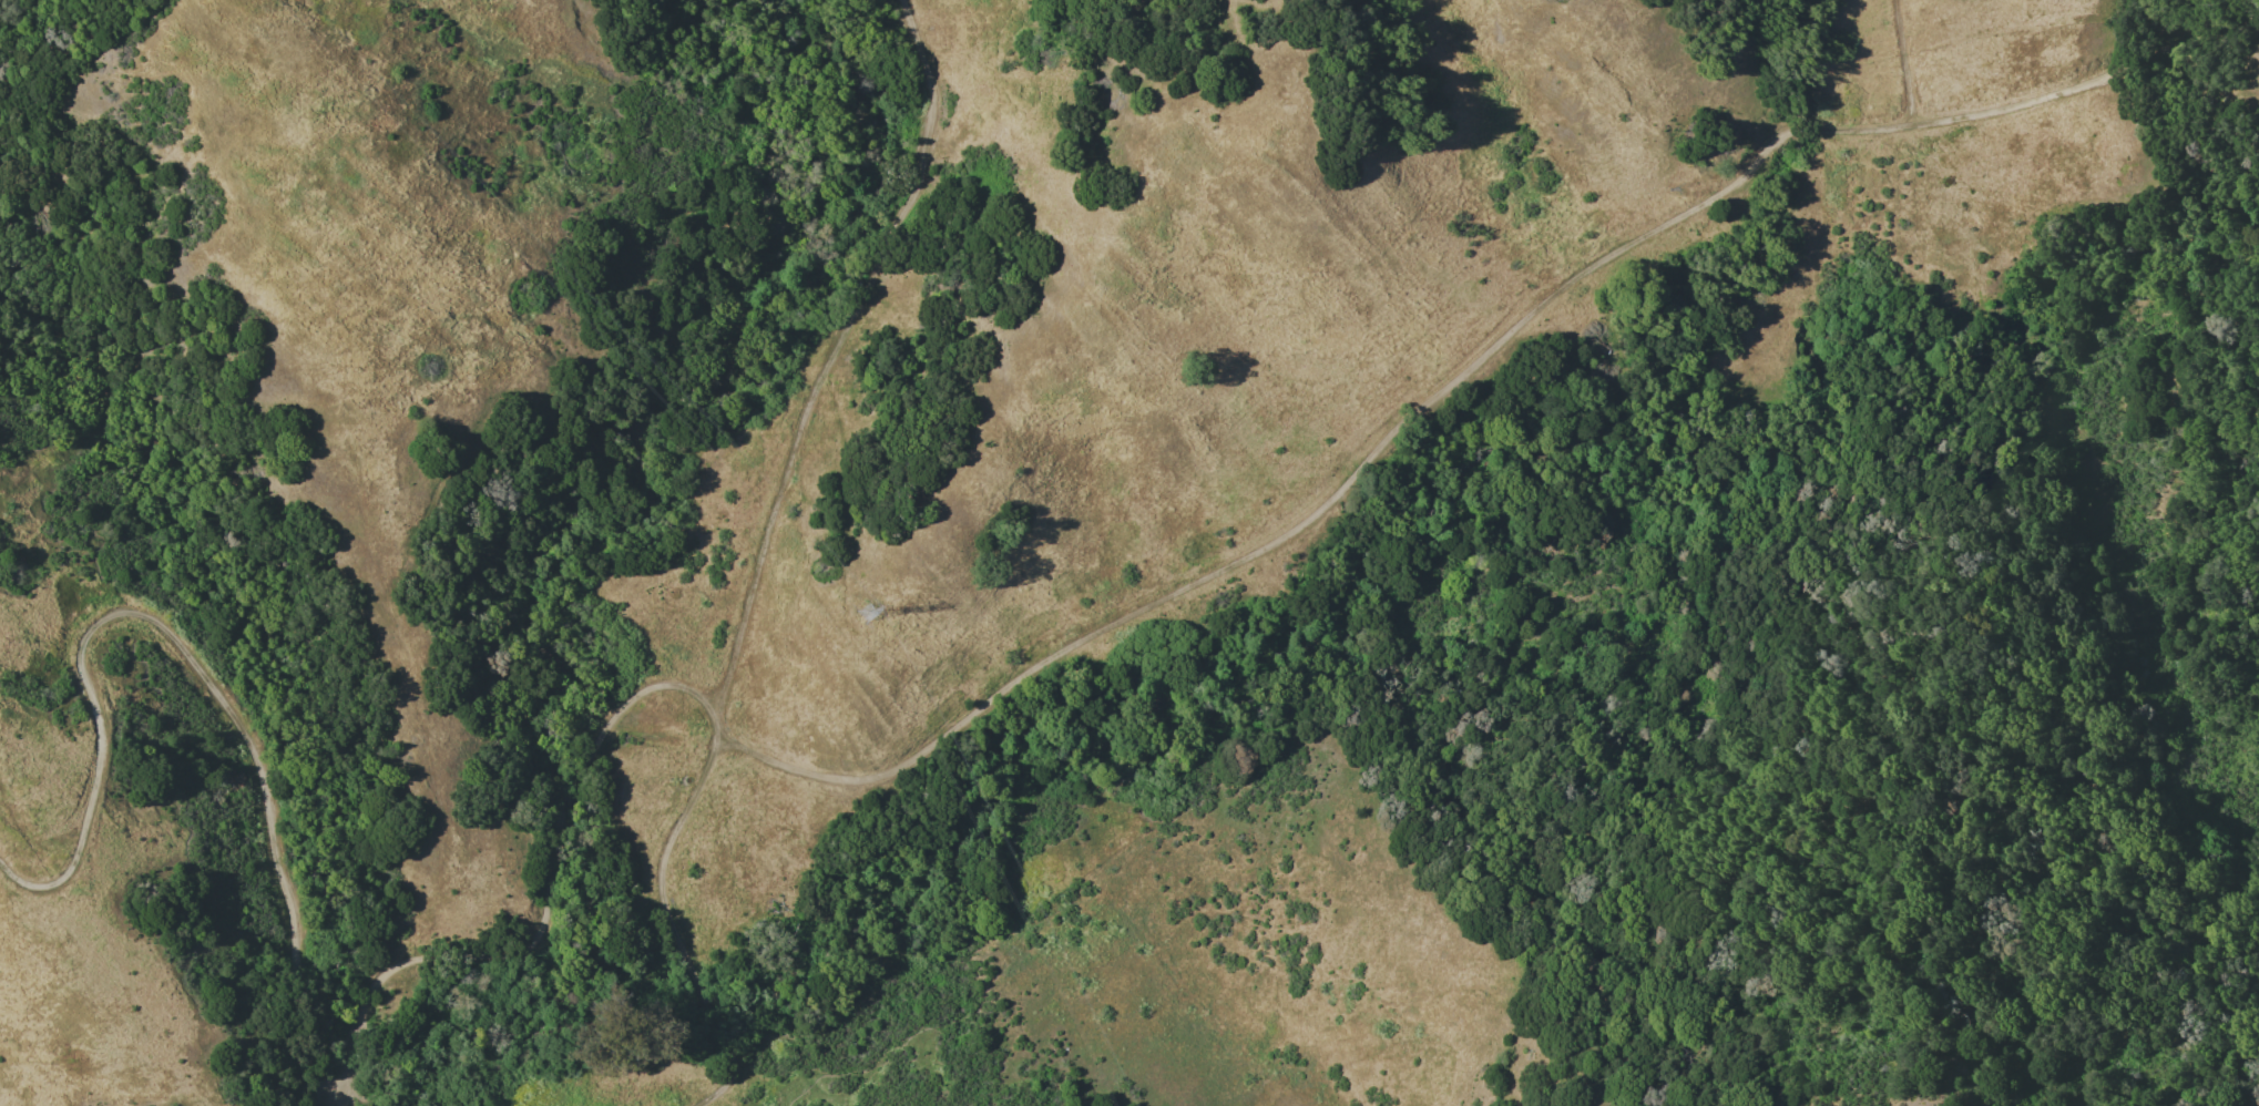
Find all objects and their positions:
road: (1907, 62)
road: (1376, 453)
power tower: (868, 614)
road: (201, 673)
road: (549, 901)
road: (729, 1065)

